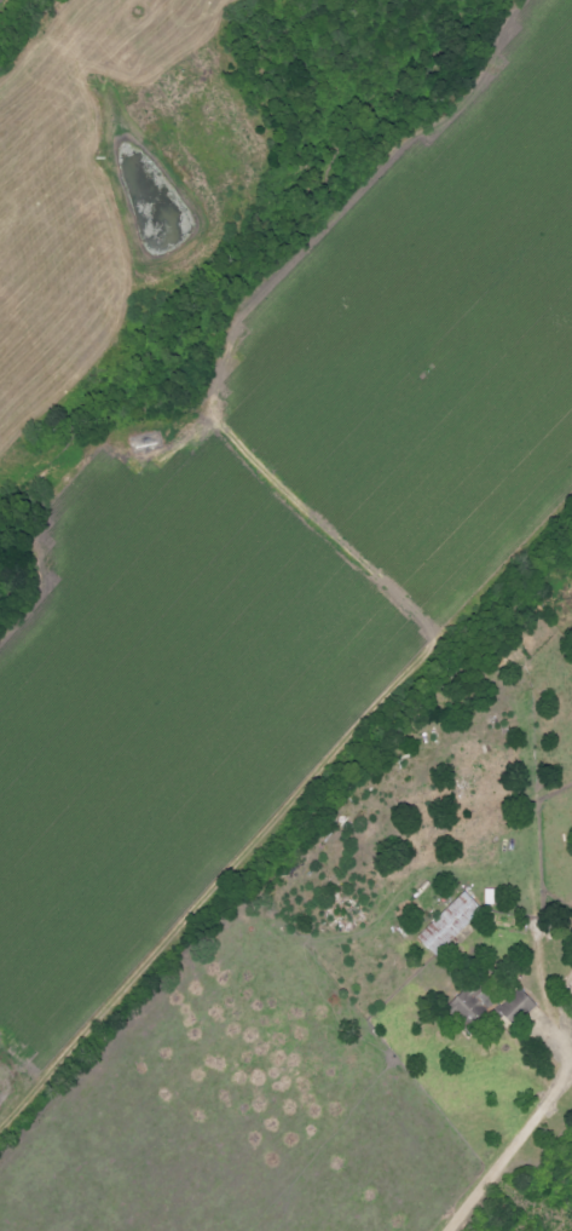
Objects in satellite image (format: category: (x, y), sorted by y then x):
building: (453, 922)
building: (470, 1005)
building: (520, 1006)
road: (553, 1093)

